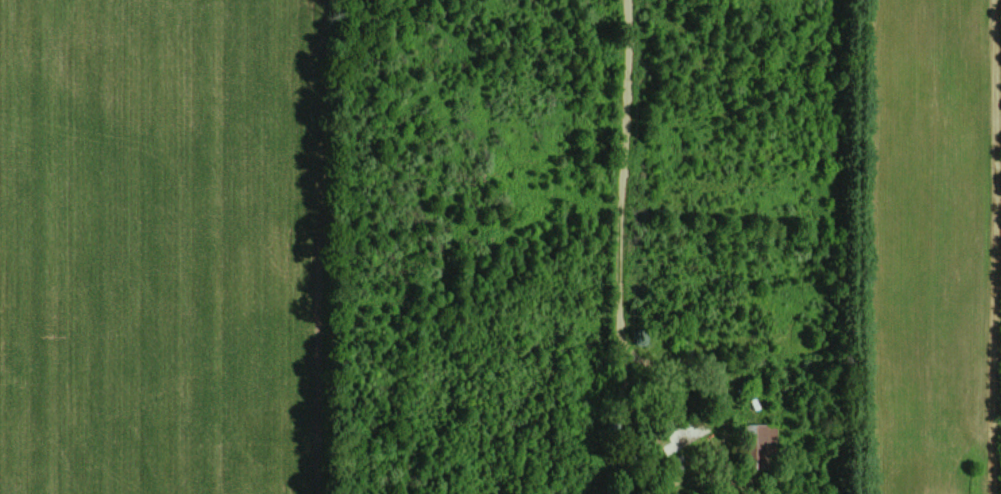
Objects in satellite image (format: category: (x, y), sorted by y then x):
road: (597, 220)
road: (993, 246)
building: (685, 433)
building: (760, 444)

